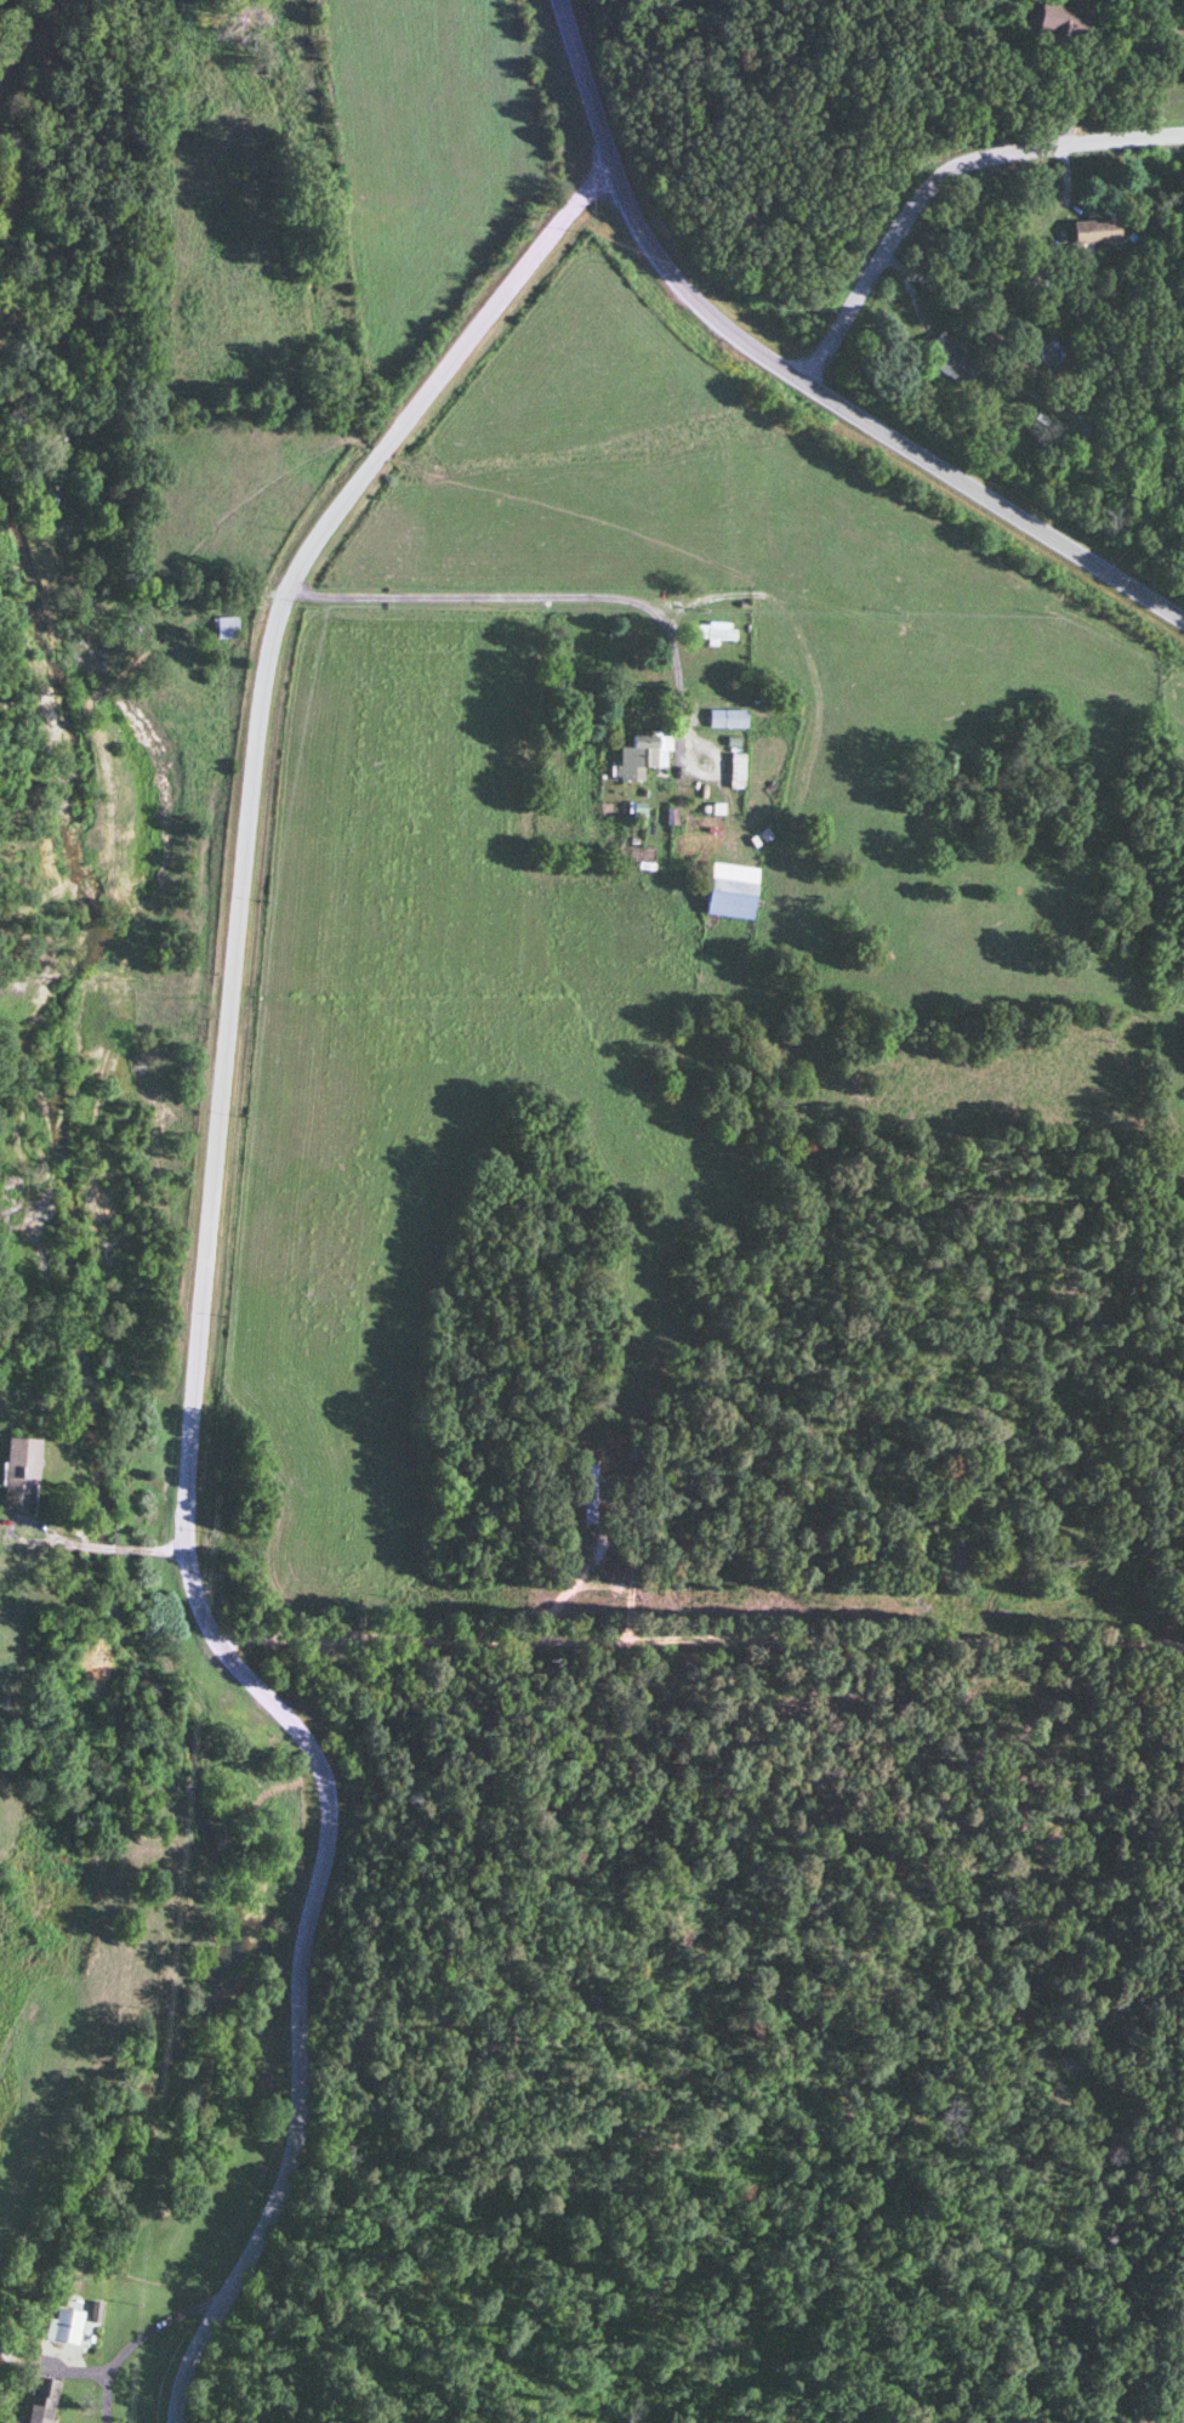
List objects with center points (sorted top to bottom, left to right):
road: (941, 177)
building: (1092, 226)
road: (940, 288)
building: (946, 353)
road: (793, 376)
road: (148, 573)
building: (712, 626)
building: (727, 715)
building: (639, 750)
building: (725, 895)
road: (197, 1273)
building: (22, 1476)
building: (587, 1494)
road: (90, 1548)
building: (958, 1556)
road: (568, 1590)
road: (701, 1641)
road: (132, 2340)
building: (40, 2400)

